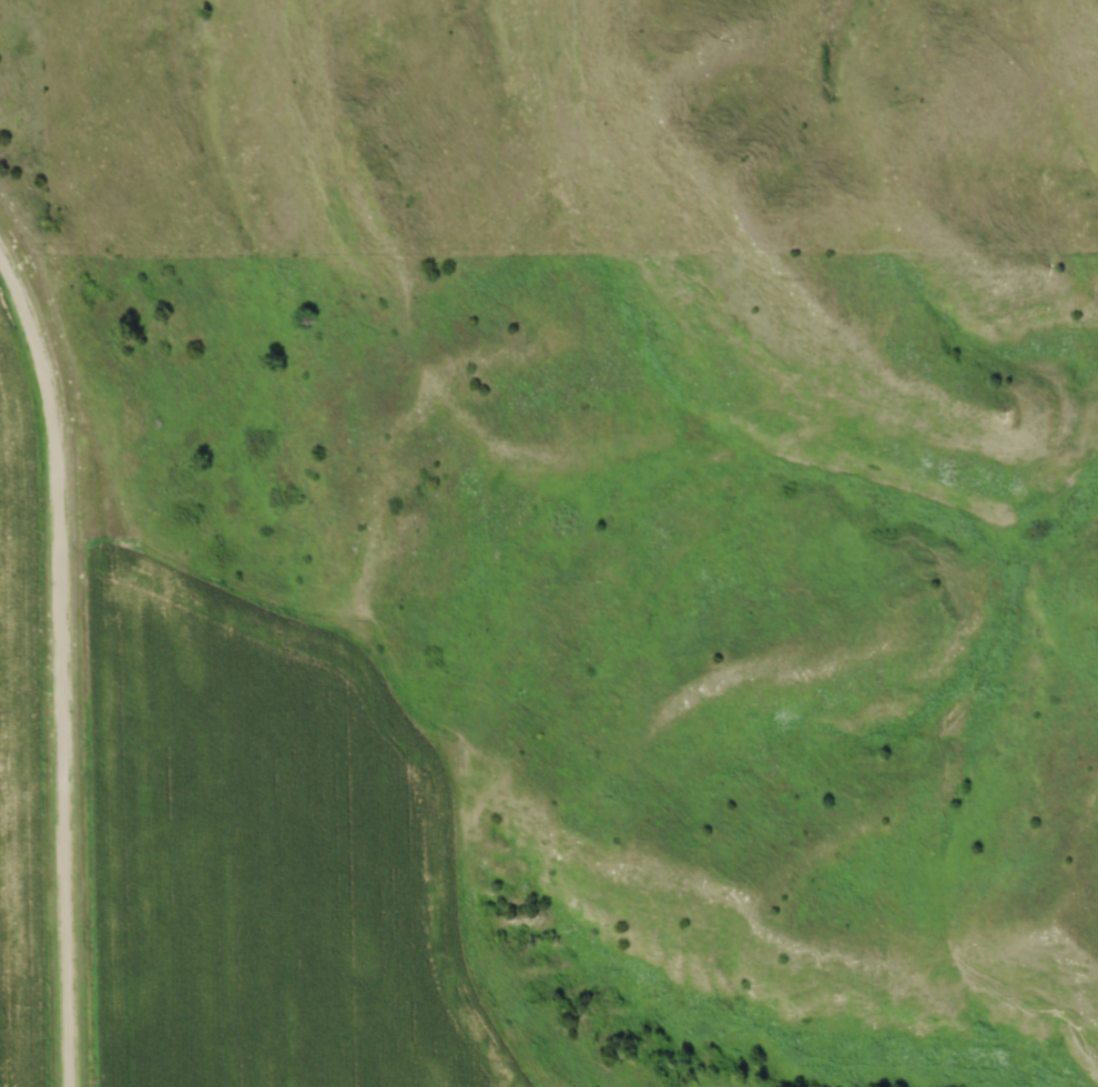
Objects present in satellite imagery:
road: (26, 305)
road: (65, 725)

